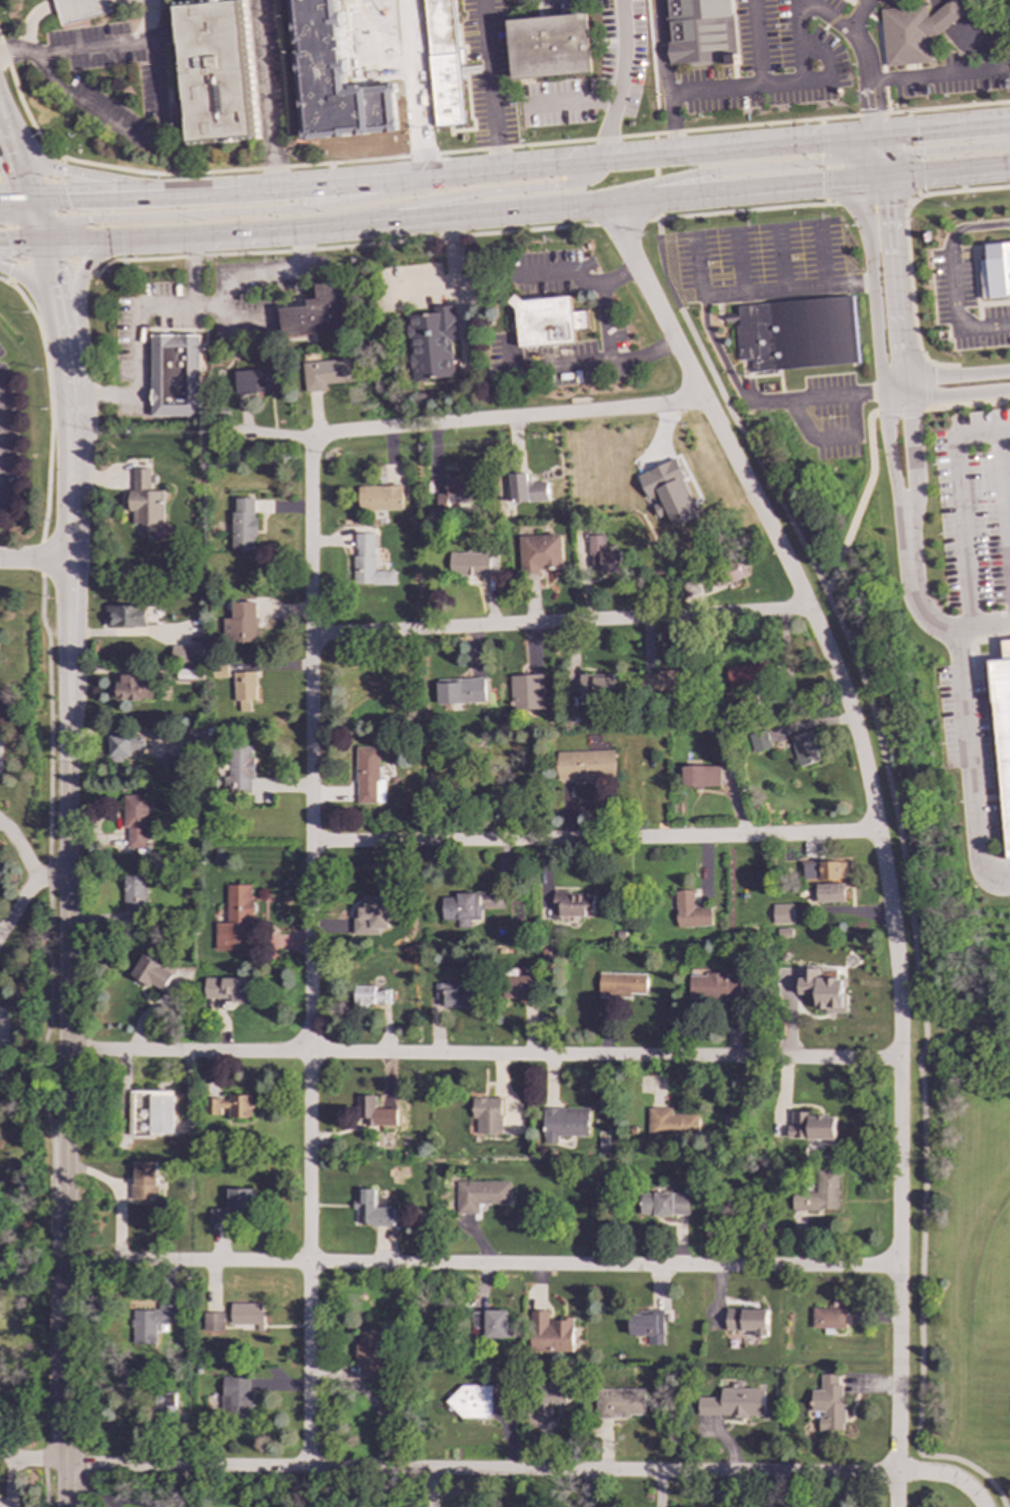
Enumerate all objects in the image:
building: (80, 10)
road: (858, 15)
road: (34, 16)
road: (985, 23)
road: (148, 25)
building: (698, 31)
road: (849, 31)
building: (913, 32)
road: (800, 40)
road: (756, 42)
building: (550, 46)
road: (21, 51)
road: (821, 53)
building: (443, 62)
building: (214, 71)
parking lot: (488, 72)
road: (939, 75)
road: (664, 76)
building: (334, 79)
road: (622, 81)
road: (491, 84)
road: (749, 86)
road: (415, 88)
road: (264, 95)
road: (869, 97)
road: (571, 104)
traffic signals: (871, 109)
road: (161, 114)
road: (1, 122)
road: (875, 124)
road: (866, 125)
road: (908, 128)
road: (944, 128)
traffic signals: (915, 131)
road: (871, 135)
road: (822, 143)
road: (862, 144)
road: (872, 145)
road: (881, 148)
road: (945, 149)
road: (467, 150)
traffic signals: (921, 152)
road: (15, 162)
traffic signals: (819, 162)
road: (862, 165)
road: (870, 167)
traffic signals: (17, 168)
road: (57, 168)
road: (884, 168)
road: (913, 168)
road: (738, 169)
road: (946, 170)
road: (444, 175)
road: (655, 176)
road: (873, 177)
road: (25, 178)
road: (130, 182)
traffic signals: (820, 182)
road: (825, 186)
road: (863, 189)
road: (960, 190)
road: (461, 194)
road: (917, 194)
road: (57, 196)
traffic signals: (66, 198)
road: (13, 199)
traffic signals: (27, 199)
road: (875, 199)
traffic signals: (887, 207)
road: (526, 208)
road: (741, 211)
road: (16, 212)
road: (232, 212)
road: (34, 220)
traffic signals: (87, 220)
road: (621, 221)
road: (975, 226)
road: (9, 230)
road: (68, 236)
road: (115, 240)
traffic signals: (6, 242)
road: (20, 242)
road: (343, 246)
parking lot: (757, 253)
road: (822, 253)
road: (961, 255)
road: (780, 257)
road: (738, 261)
road: (45, 262)
road: (697, 265)
road: (84, 267)
building: (995, 270)
traffic signals: (50, 271)
road: (190, 271)
road: (11, 272)
road: (259, 275)
road: (576, 276)
road: (52, 279)
road: (975, 279)
road: (3, 281)
road: (453, 282)
road: (36, 286)
road: (786, 289)
road: (909, 295)
road: (993, 302)
road: (953, 310)
building: (319, 312)
building: (547, 320)
road: (604, 321)
building: (796, 333)
road: (901, 342)
building: (430, 343)
road: (135, 346)
road: (879, 355)
road: (576, 364)
road: (86, 365)
road: (69, 366)
road: (727, 369)
building: (326, 374)
building: (175, 376)
road: (939, 377)
building: (255, 381)
road: (925, 383)
road: (830, 395)
road: (940, 395)
road: (81, 397)
road: (968, 404)
road: (49, 405)
road: (901, 410)
parking lot: (834, 414)
road: (470, 420)
road: (831, 436)
road: (71, 463)
building: (527, 489)
building: (669, 491)
building: (454, 493)
building: (380, 498)
building: (145, 500)
road: (861, 502)
building: (243, 524)
building: (540, 552)
road: (41, 556)
building: (602, 556)
road: (34, 561)
building: (368, 563)
building: (470, 564)
road: (910, 580)
building: (126, 616)
building: (241, 623)
road: (559, 623)
road: (981, 629)
road: (129, 632)
road: (993, 637)
building: (187, 654)
building: (220, 671)
building: (190, 674)
building: (748, 675)
building: (663, 681)
building: (131, 688)
building: (596, 688)
building: (245, 689)
building: (461, 691)
building: (527, 693)
building: (1002, 735)
building: (759, 741)
building: (124, 746)
building: (586, 765)
road: (966, 769)
building: (240, 770)
building: (701, 776)
building: (368, 777)
road: (873, 810)
building: (135, 821)
road: (595, 839)
road: (28, 860)
road: (903, 866)
building: (824, 871)
building: (134, 893)
building: (830, 893)
road: (19, 904)
building: (573, 904)
building: (462, 909)
building: (691, 911)
building: (782, 914)
building: (372, 916)
building: (237, 920)
building: (784, 932)
road: (311, 952)
building: (153, 974)
building: (519, 985)
building: (621, 985)
building: (713, 987)
road: (68, 989)
building: (230, 989)
building: (822, 989)
building: (370, 996)
building: (452, 996)
road: (44, 1039)
road: (484, 1055)
building: (230, 1106)
building: (366, 1111)
building: (150, 1113)
building: (487, 1115)
building: (563, 1123)
building: (670, 1124)
building: (811, 1127)
building: (145, 1181)
building: (819, 1193)
building: (480, 1195)
building: (239, 1201)
building: (664, 1204)
building: (370, 1209)
building: (218, 1216)
building: (798, 1221)
park: (958, 1236)
road: (482, 1265)
park: (992, 1277)
building: (247, 1315)
building: (828, 1318)
building: (747, 1320)
building: (153, 1322)
building: (213, 1322)
building: (492, 1323)
building: (647, 1326)
building: (550, 1333)
building: (369, 1354)
building: (555, 1394)
building: (237, 1398)
building: (472, 1401)
building: (619, 1403)
building: (734, 1403)
building: (829, 1403)
building: (167, 1404)
road: (32, 1457)
road: (481, 1469)
road: (947, 1475)
road: (13, 1482)
road: (66, 1486)
road: (328, 1487)
road: (897, 1490)

